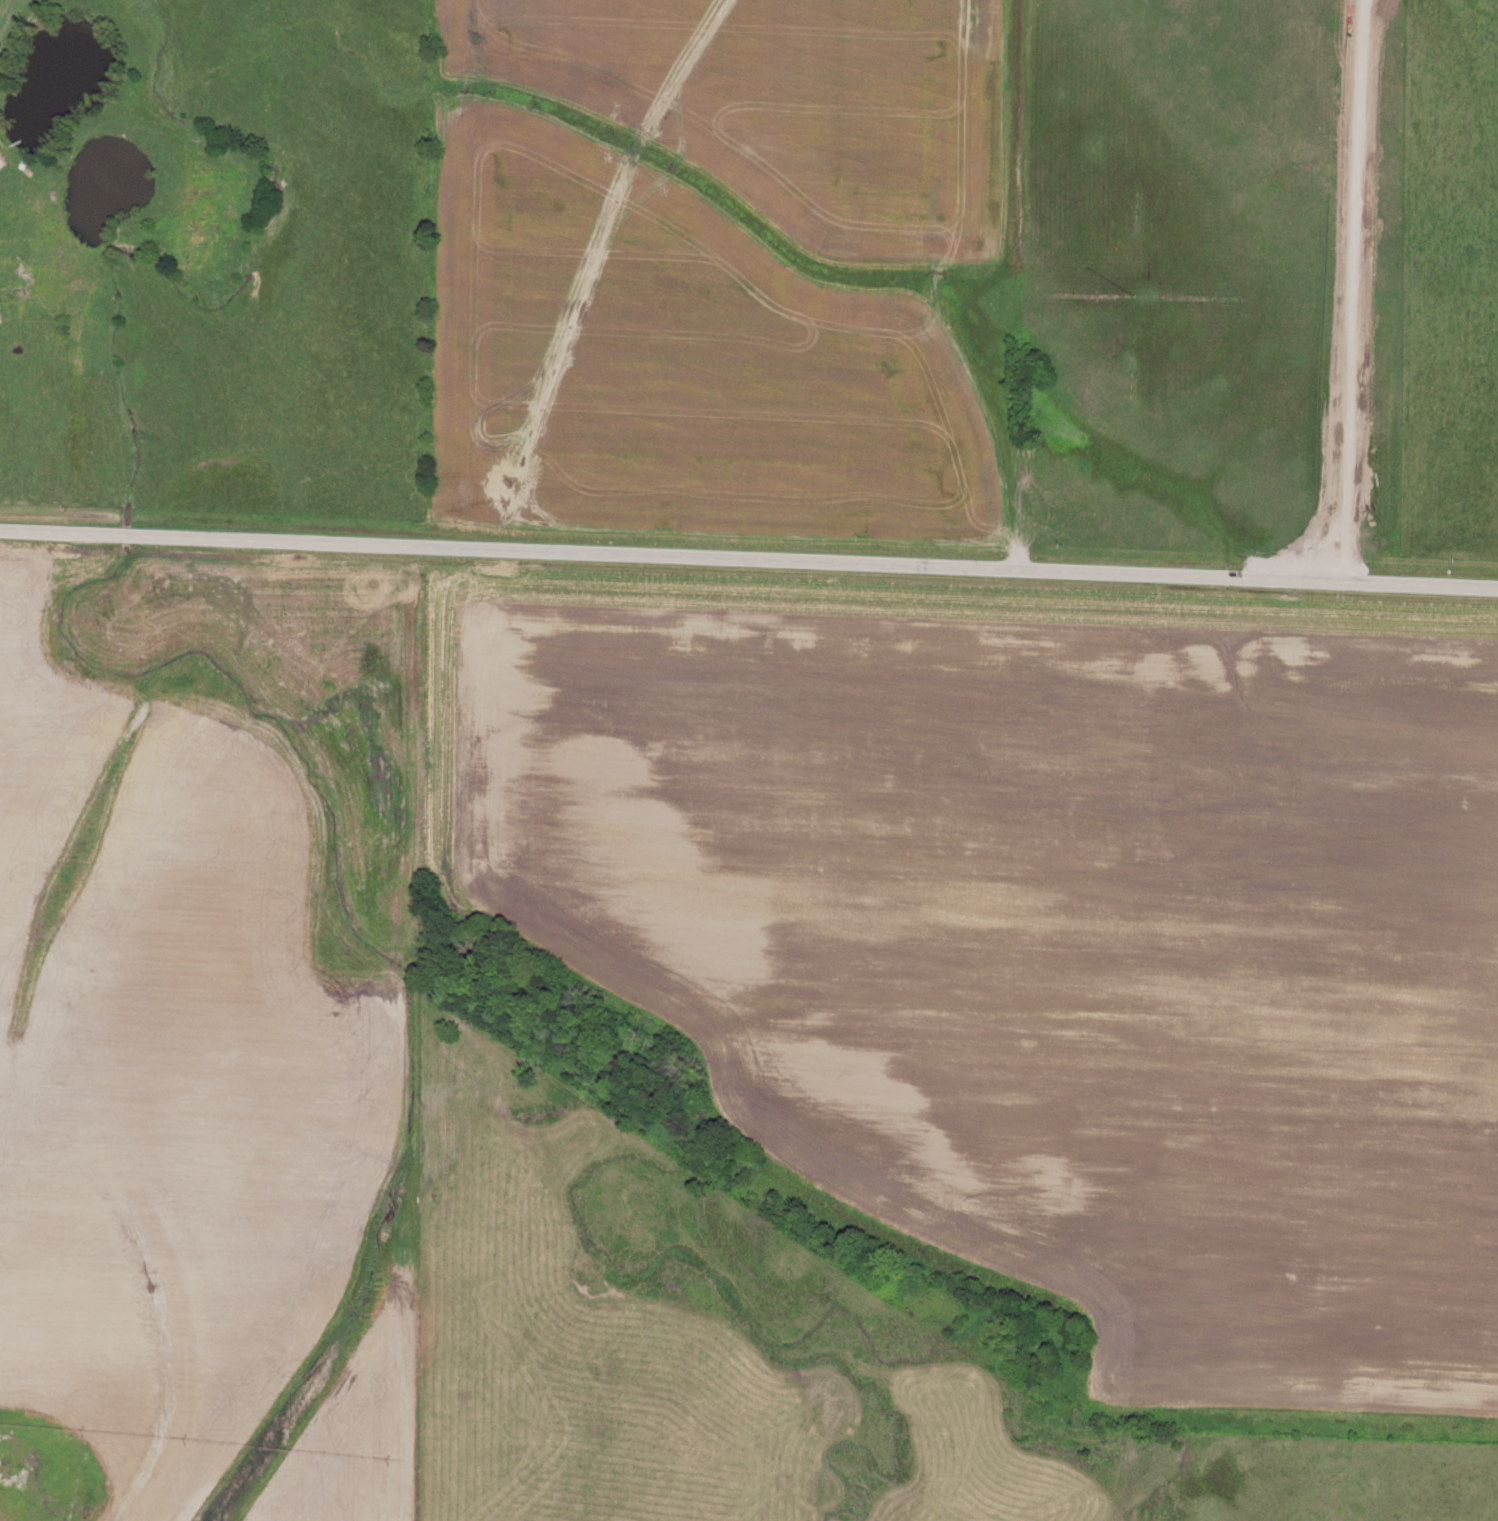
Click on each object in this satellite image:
road: (749, 558)

